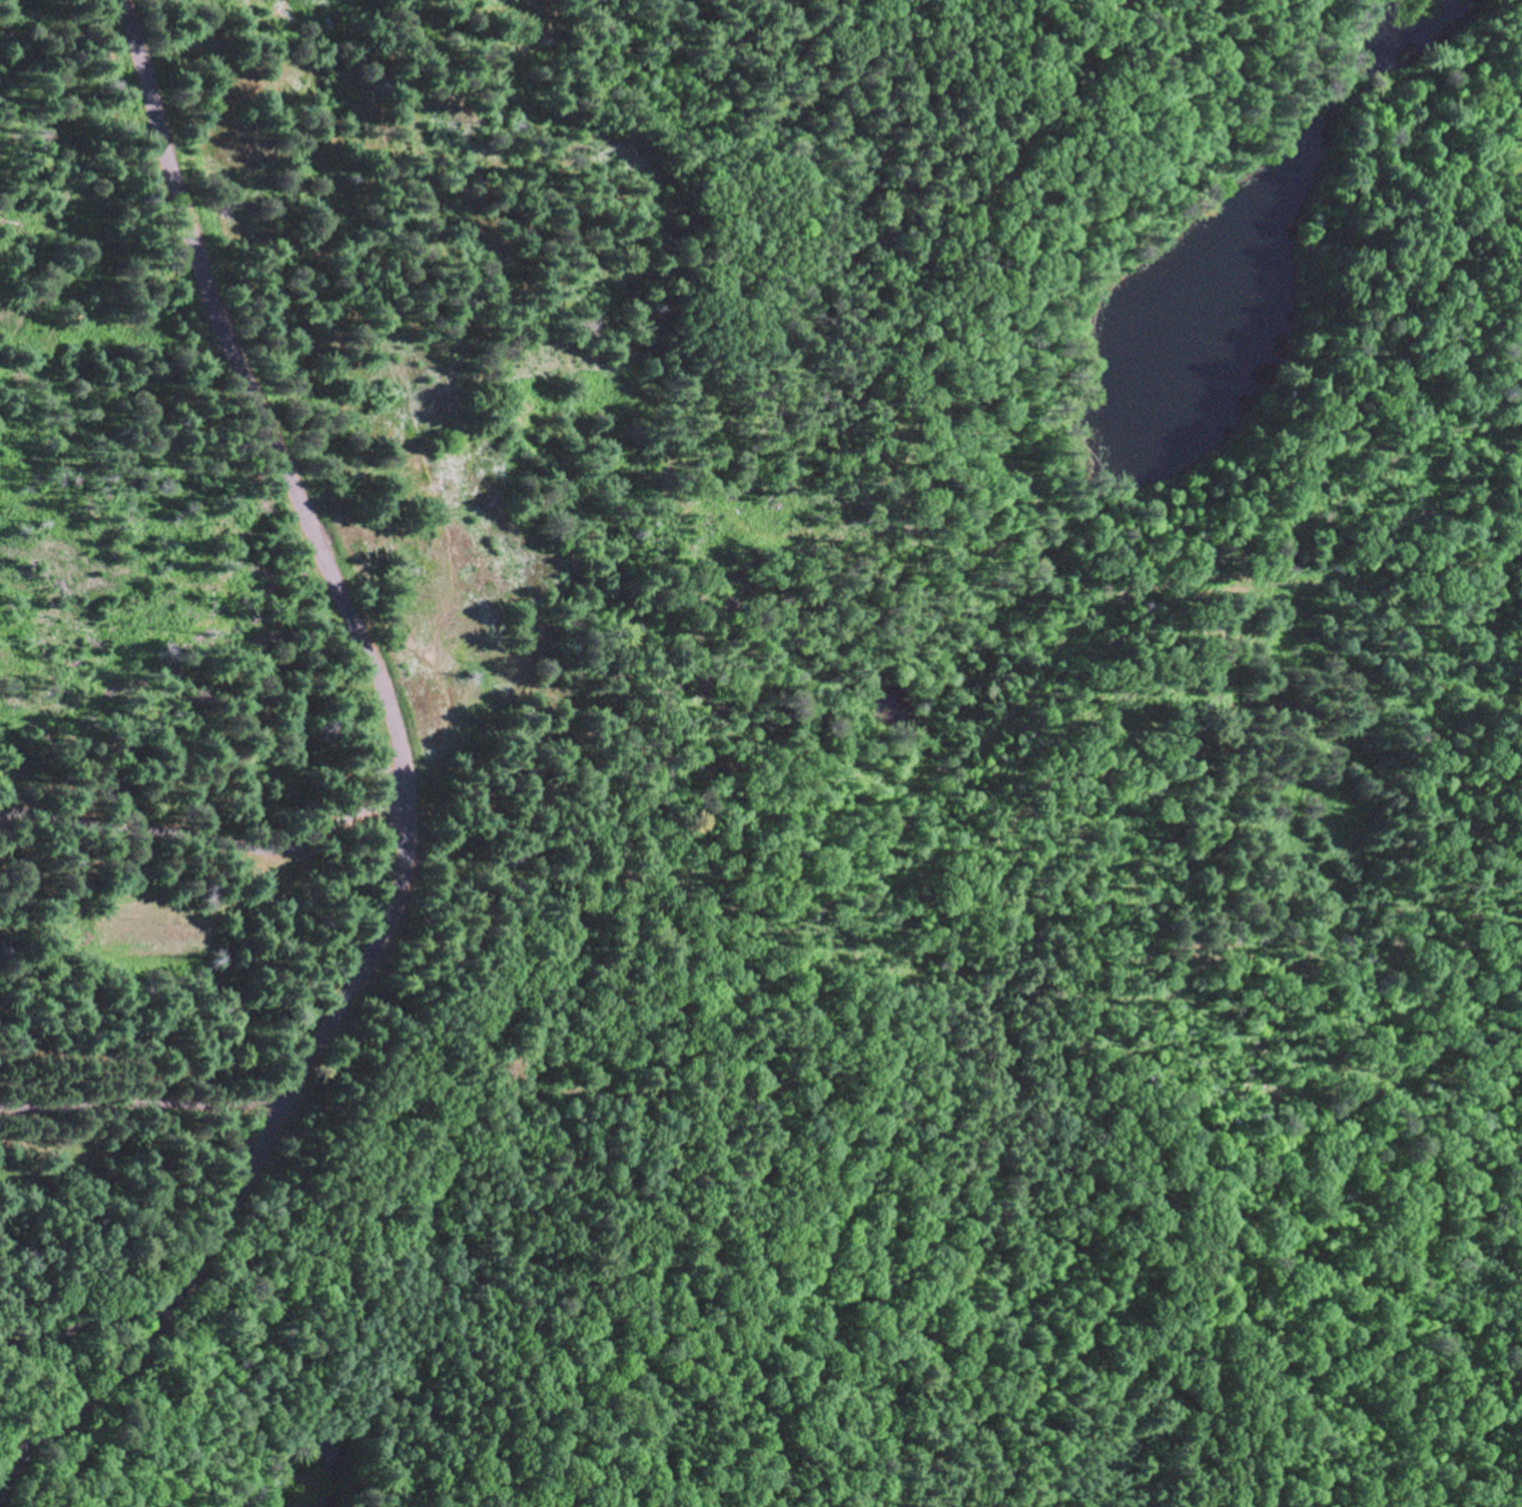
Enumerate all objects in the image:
quarry: (1507, 167)
road: (407, 787)
road: (202, 835)
road: (153, 1084)

